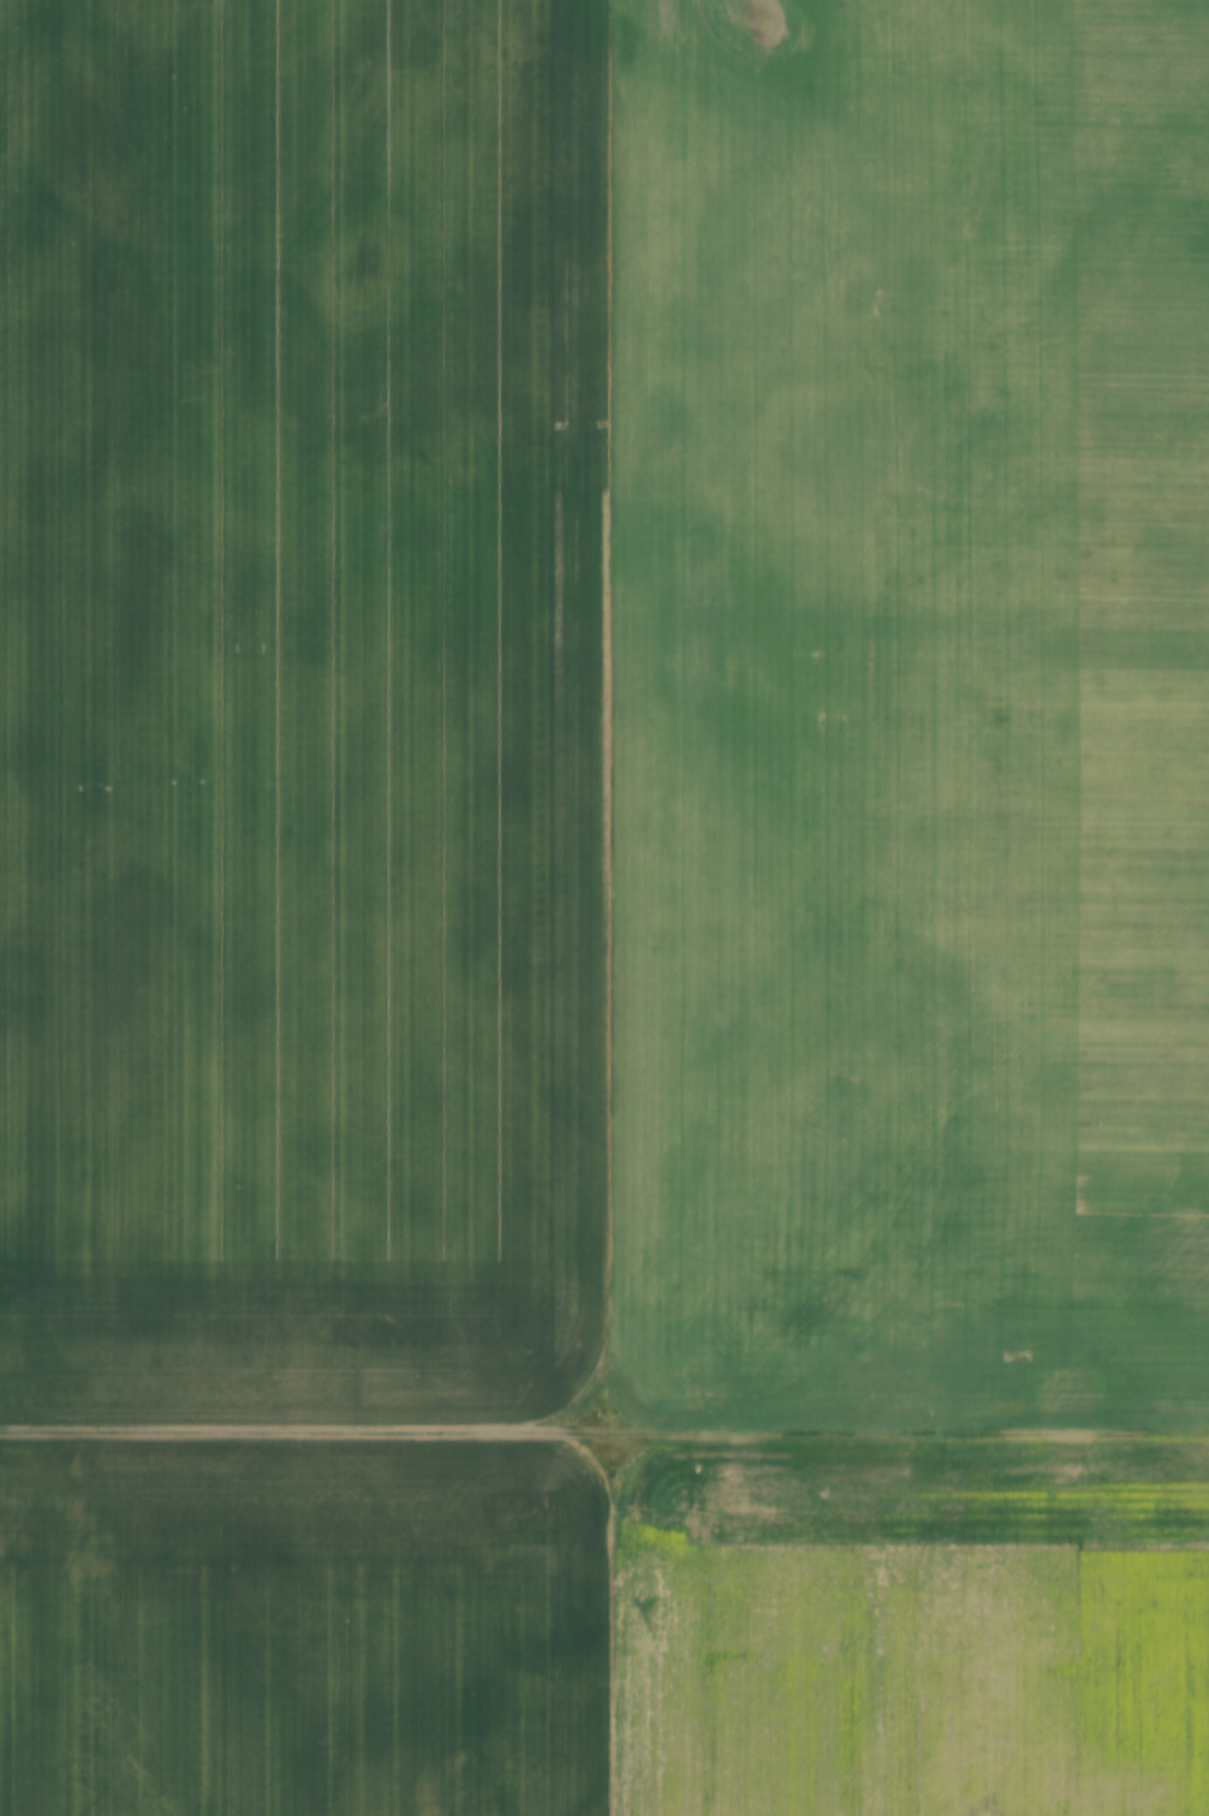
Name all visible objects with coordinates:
road: (604, 1435)

